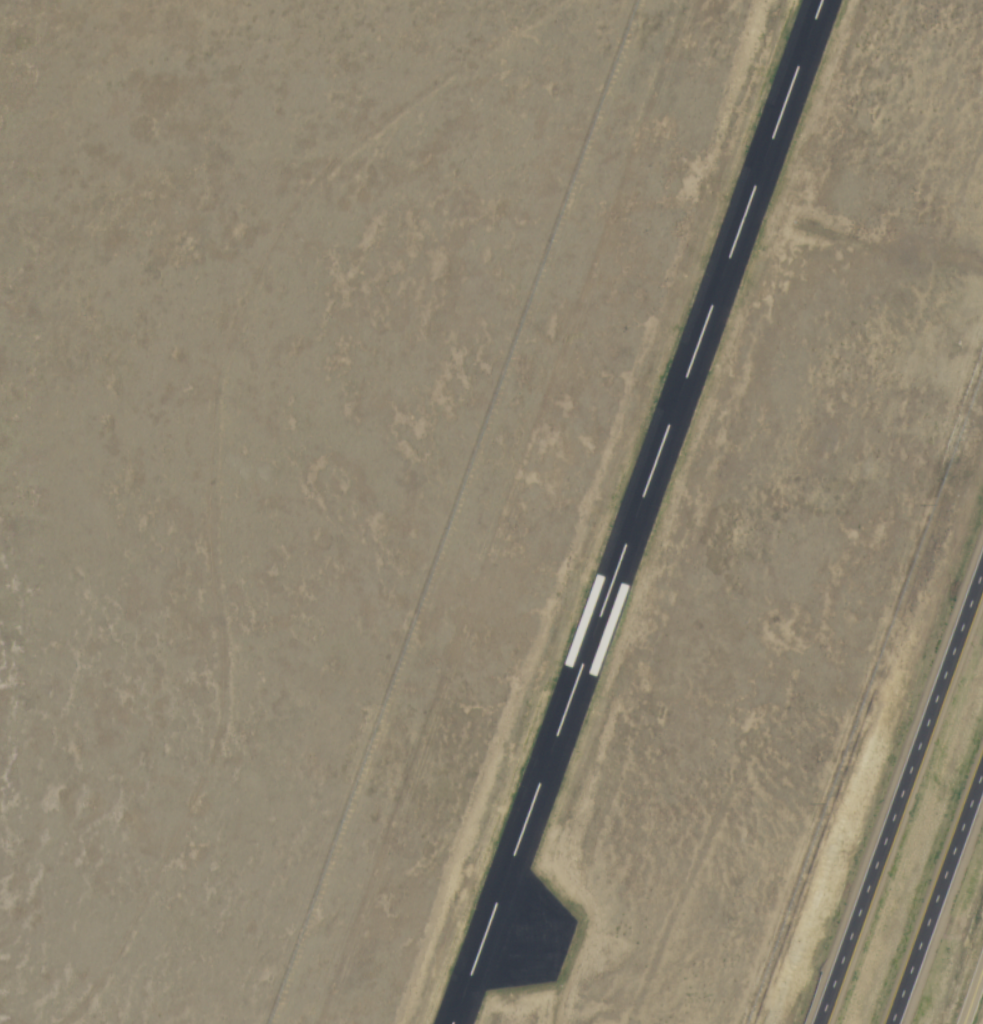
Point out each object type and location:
airport runway: (641, 512)
road: (899, 790)
road: (940, 904)
road: (973, 998)

